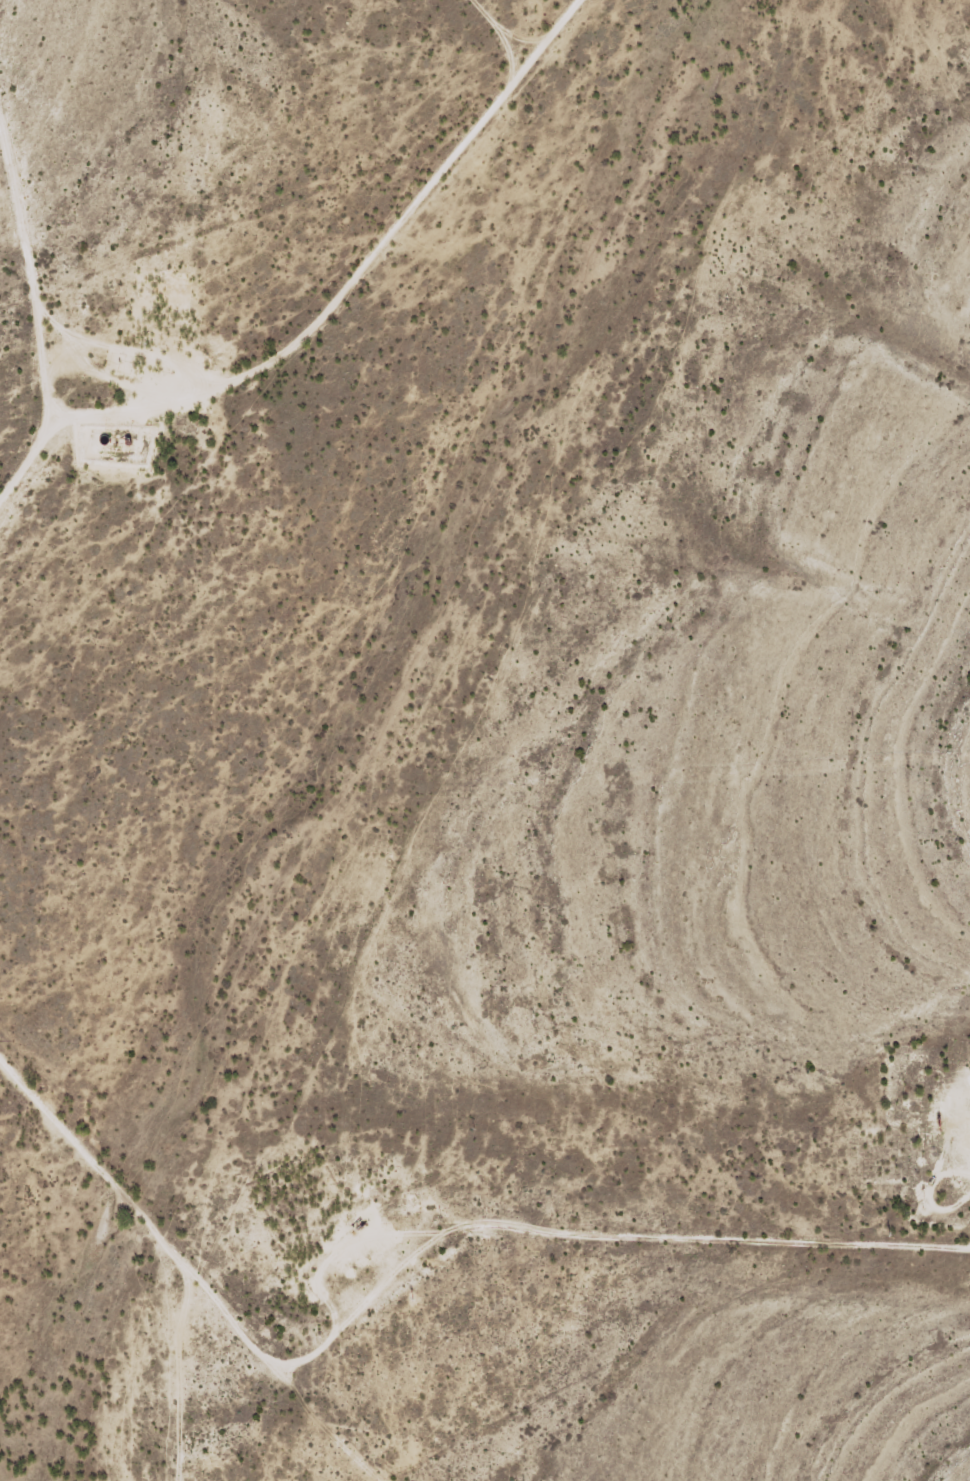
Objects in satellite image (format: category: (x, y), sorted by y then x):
road: (55, 195)
road: (313, 325)
road: (471, 809)
road: (122, 1175)
road: (186, 1379)

